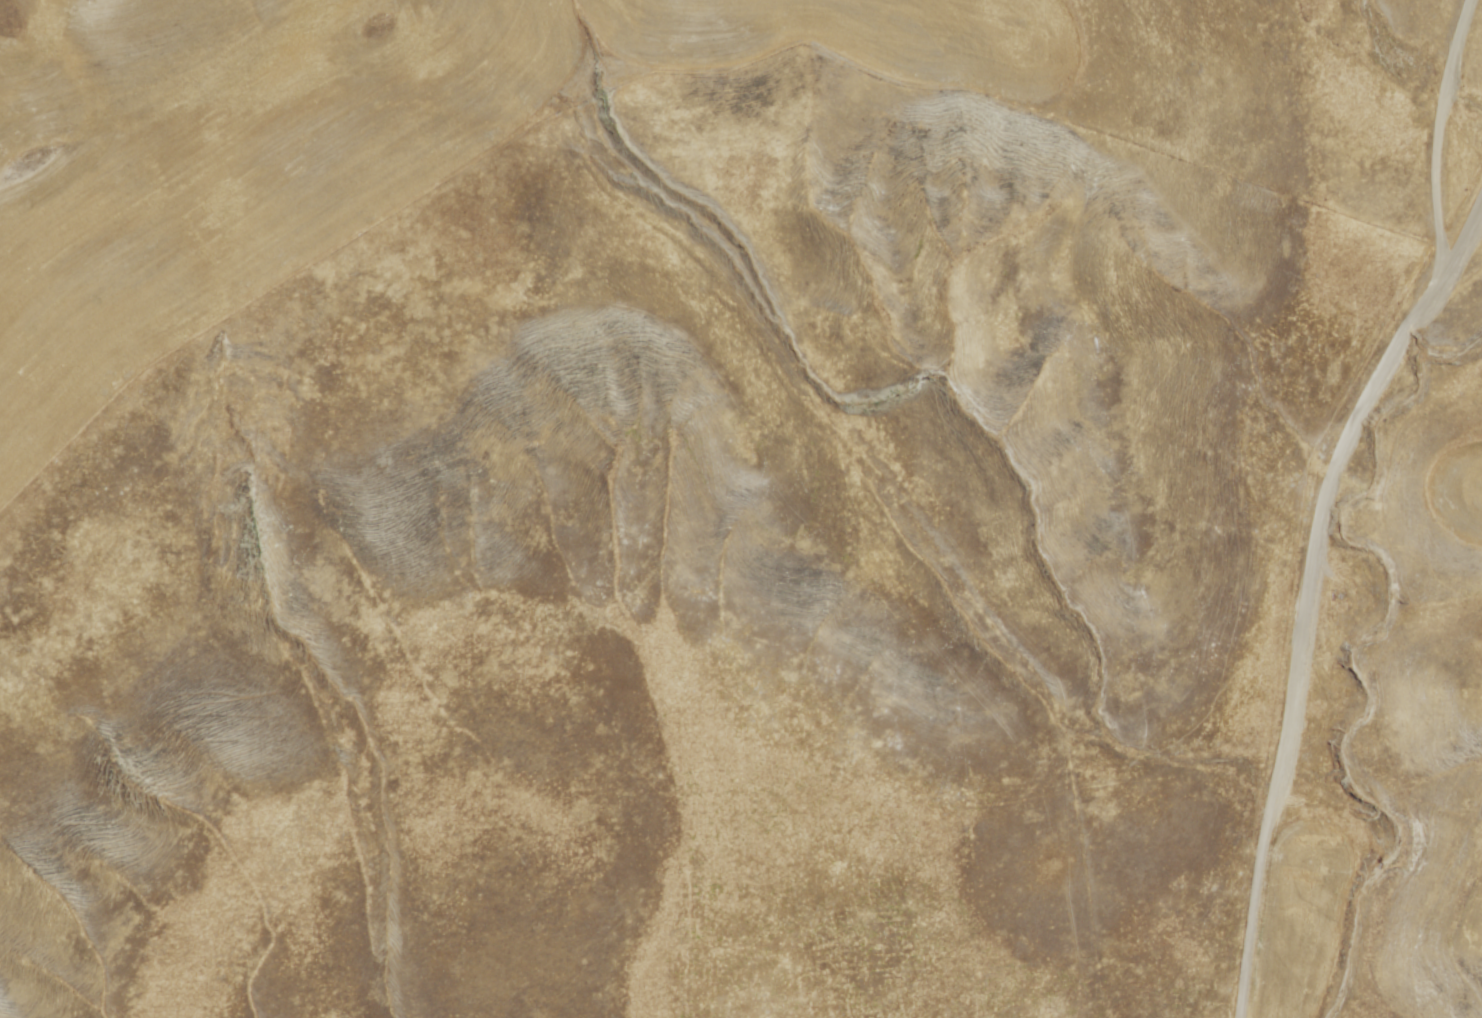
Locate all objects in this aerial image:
road: (1440, 124)
road: (1307, 585)

